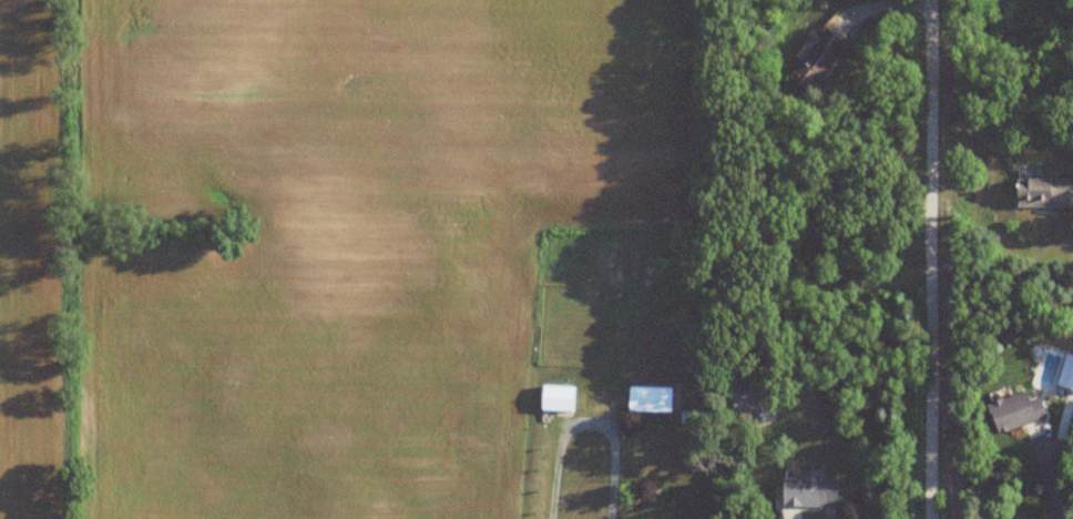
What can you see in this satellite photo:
building: (816, 60)
building: (1042, 194)
road: (932, 259)
building: (746, 393)
building: (556, 399)
building: (648, 399)
building: (1014, 413)
road: (585, 426)
road: (1051, 480)
building: (808, 490)

